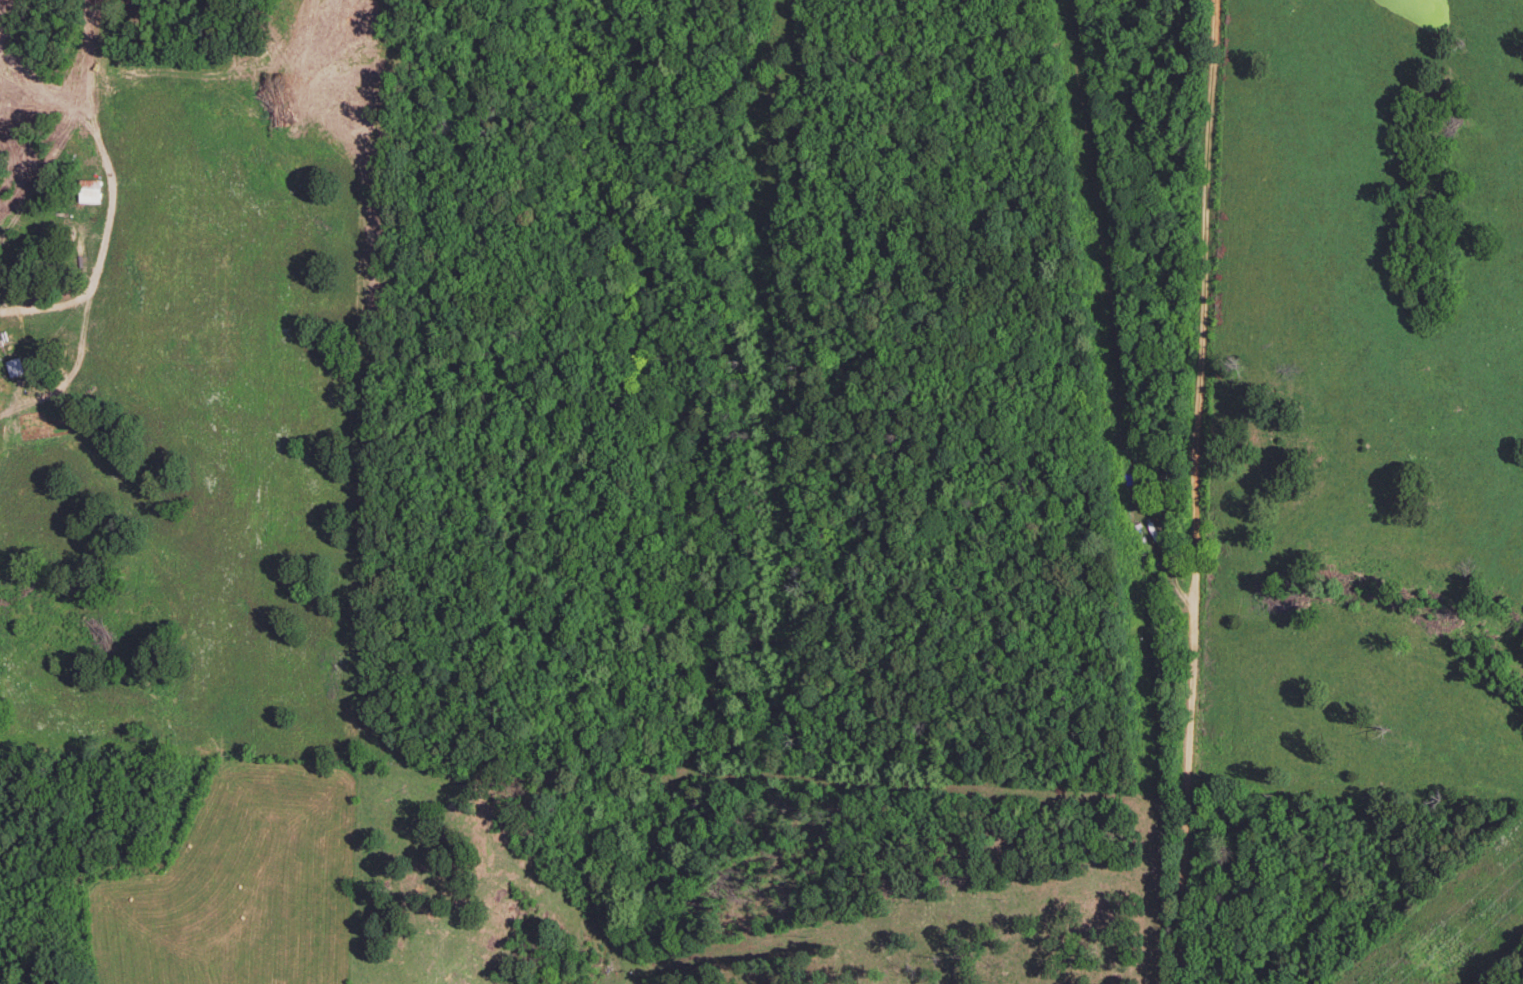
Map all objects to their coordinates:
road: (67, 181)
building: (91, 199)
road: (1190, 492)

